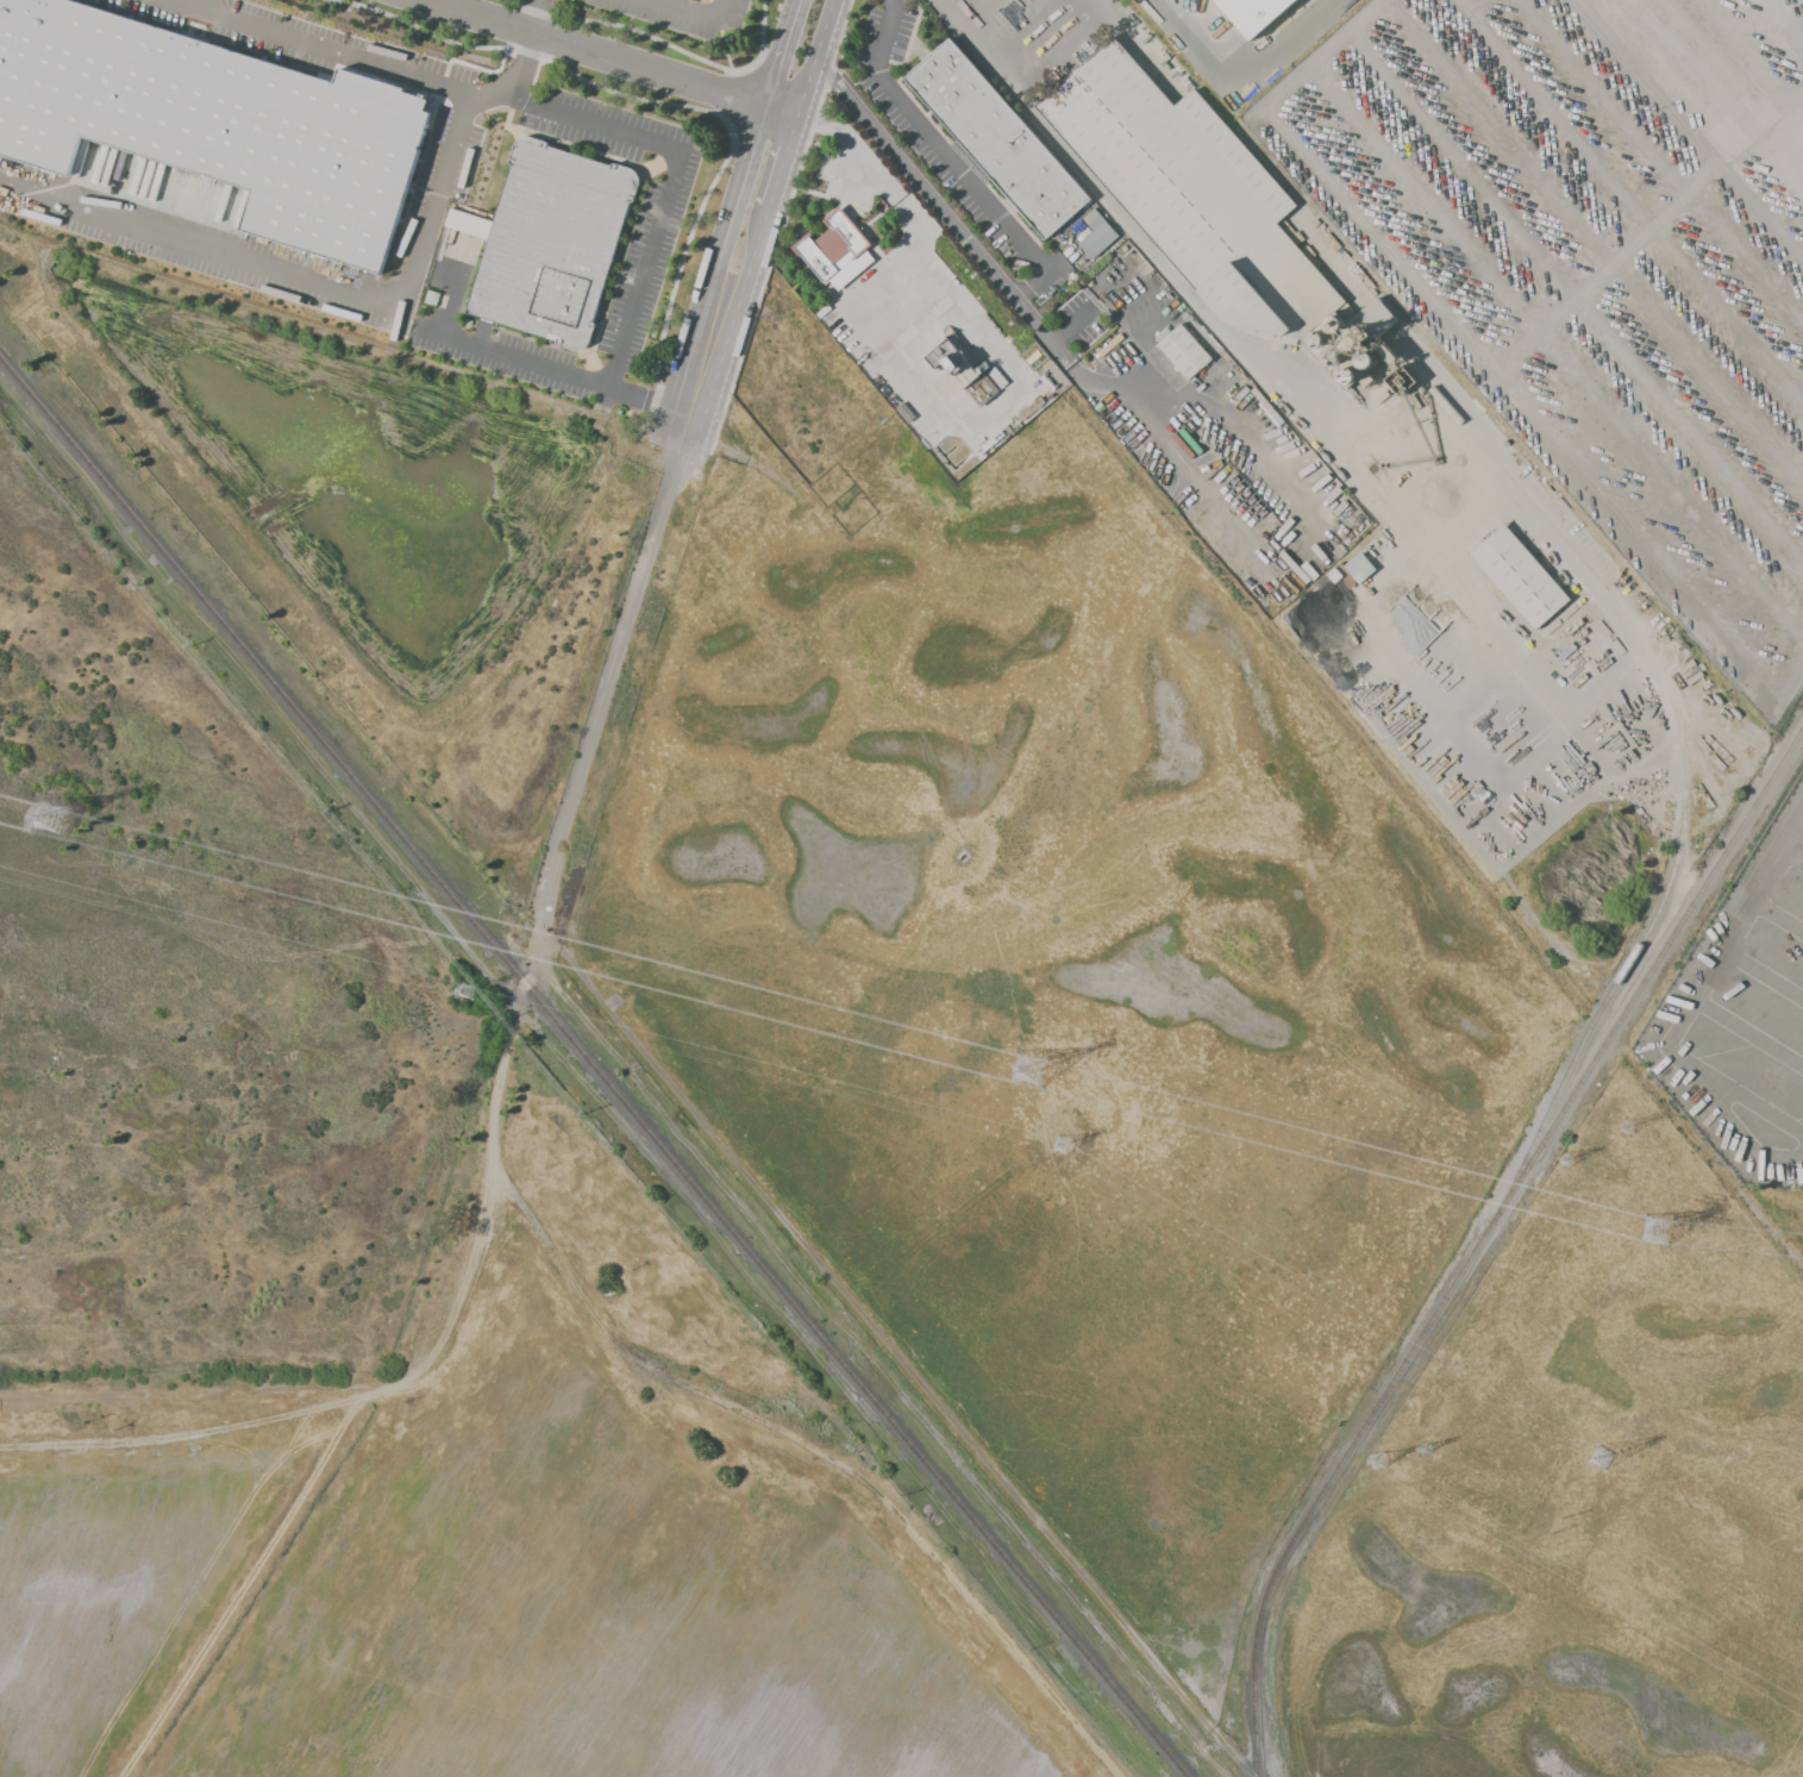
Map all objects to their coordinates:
road: (205, 2)
road: (1472, 5)
road: (972, 12)
building: (1254, 13)
road: (694, 14)
road: (1785, 18)
road: (1040, 36)
road: (349, 49)
road: (1733, 50)
road: (600, 54)
road: (783, 54)
road: (815, 58)
road: (1242, 86)
road: (1716, 101)
road: (781, 112)
building: (214, 123)
road: (828, 125)
road: (1686, 130)
building: (997, 139)
road: (937, 144)
road: (680, 152)
road: (1660, 158)
road: (850, 161)
road: (776, 164)
road: (1629, 199)
building: (1209, 208)
building: (1091, 218)
road: (1653, 223)
building: (1097, 238)
road: (730, 242)
building: (551, 244)
road: (1592, 244)
building: (835, 249)
road: (302, 277)
road: (1183, 283)
road: (735, 296)
road: (1576, 299)
road: (1020, 308)
road: (1088, 308)
building: (1184, 350)
road: (1486, 352)
road: (1555, 356)
road: (922, 363)
building: (963, 369)
road: (552, 370)
building: (997, 377)
building: (1257, 394)
road: (1204, 407)
building: (1029, 408)
building: (1250, 418)
building: (1357, 568)
building: (1307, 570)
building: (1520, 575)
road: (1630, 642)
road: (616, 656)
railway: (1683, 759)
power tower: (60, 828)
power tower: (465, 990)
road: (1692, 1007)
railway: (594, 1068)
power tower: (1029, 1069)
power tower: (1626, 1127)
power tower: (1062, 1145)
power tower: (1565, 1159)
road: (1740, 1195)
power tower: (1655, 1229)
railway: (1480, 1237)
road: (453, 1306)
power tower: (1425, 1448)
power tower: (1599, 1457)
power tower: (1377, 1460)

